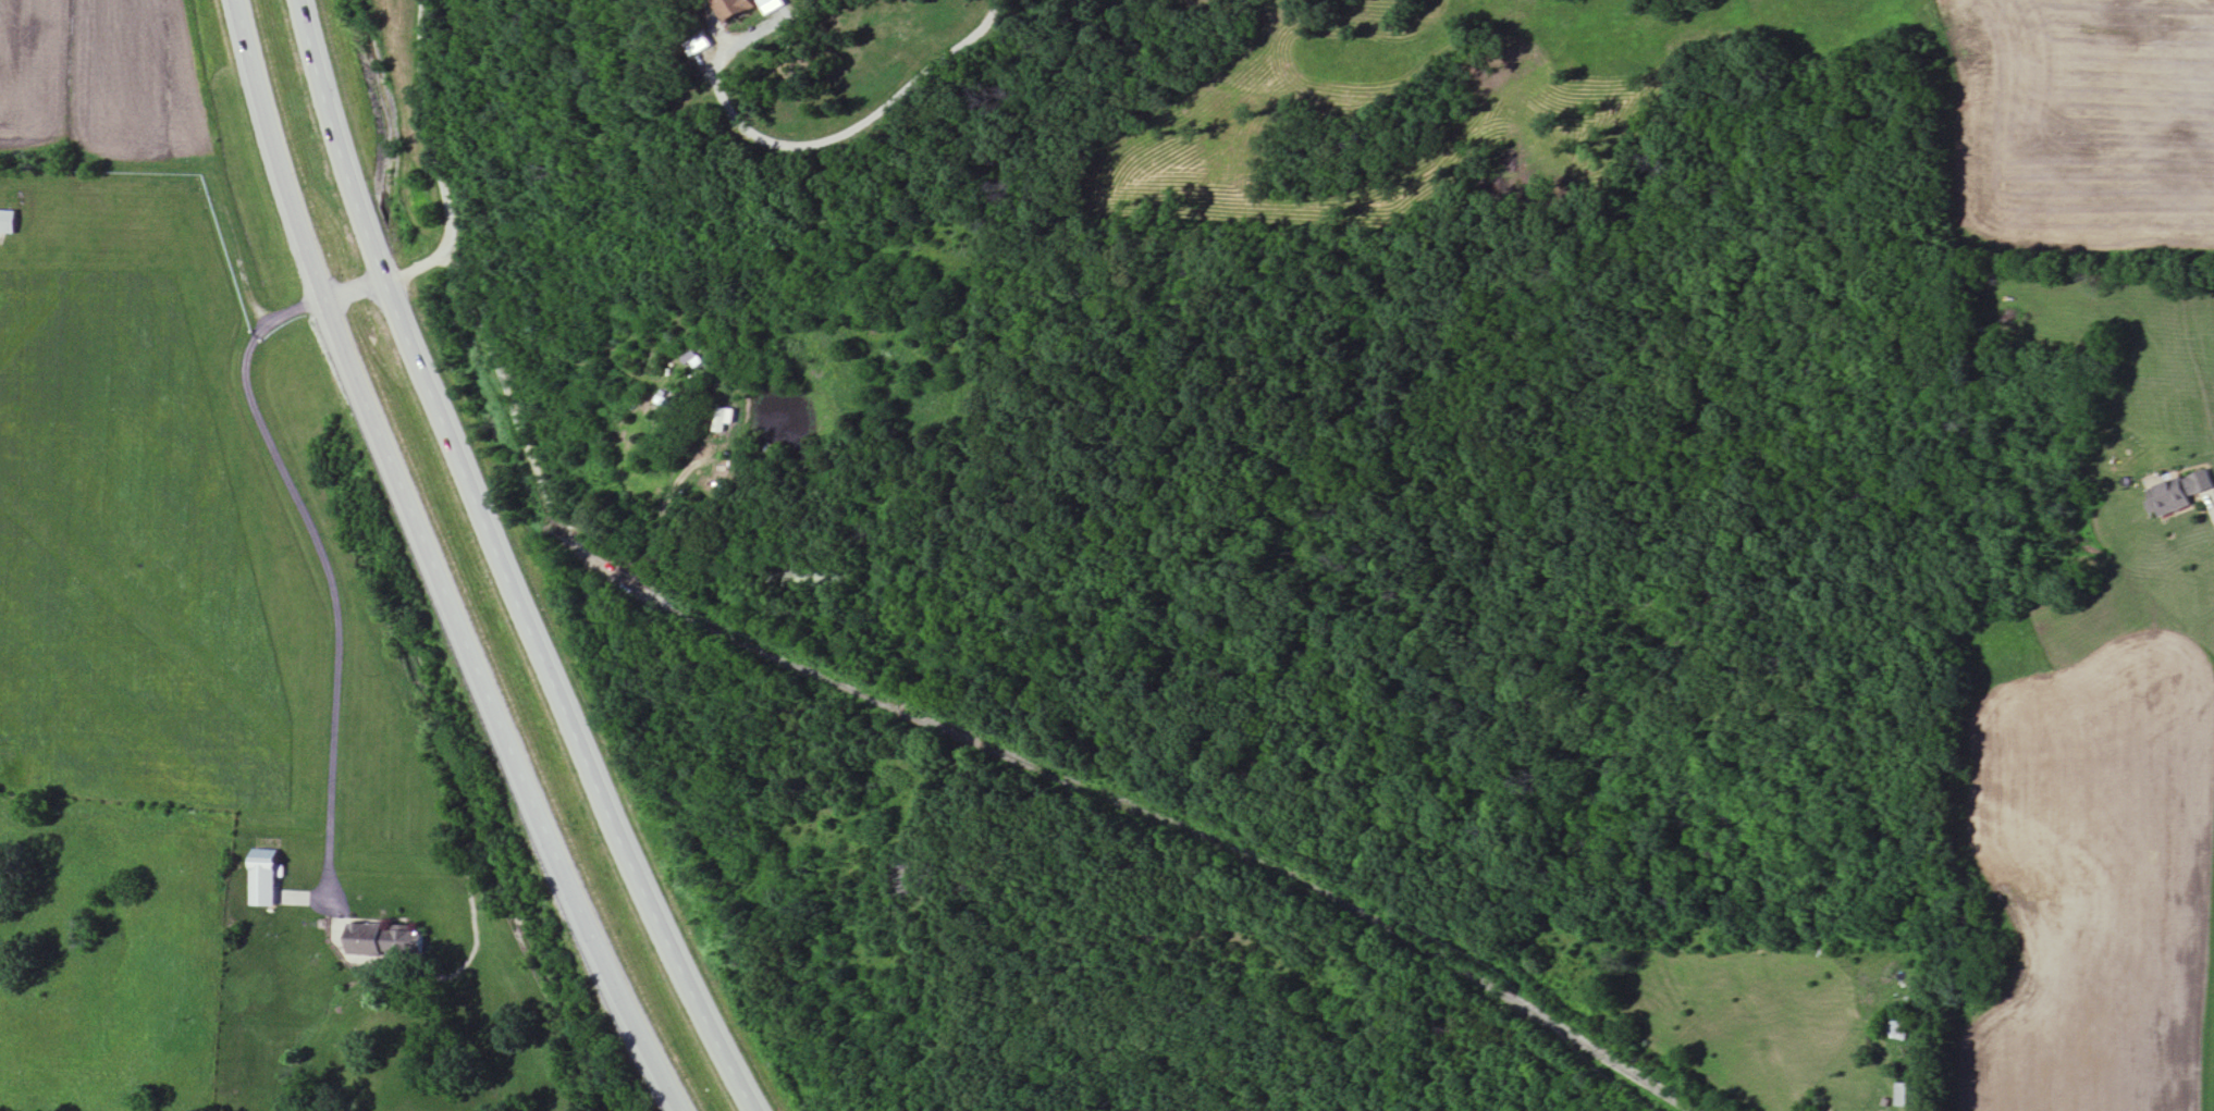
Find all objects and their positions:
building: (772, 5)
building: (734, 9)
building: (699, 45)
crop: (100, 83)
road: (861, 122)
road: (446, 158)
building: (8, 223)
airport runway: (71, 274)
road: (503, 381)
building: (2181, 493)
airport: (181, 531)
road: (315, 542)
road: (447, 565)
road: (516, 565)
airport runway: (200, 667)
road: (1120, 798)
building: (263, 865)
crop: (2093, 885)
building: (379, 940)
building: (1898, 1030)
building: (1906, 1097)

